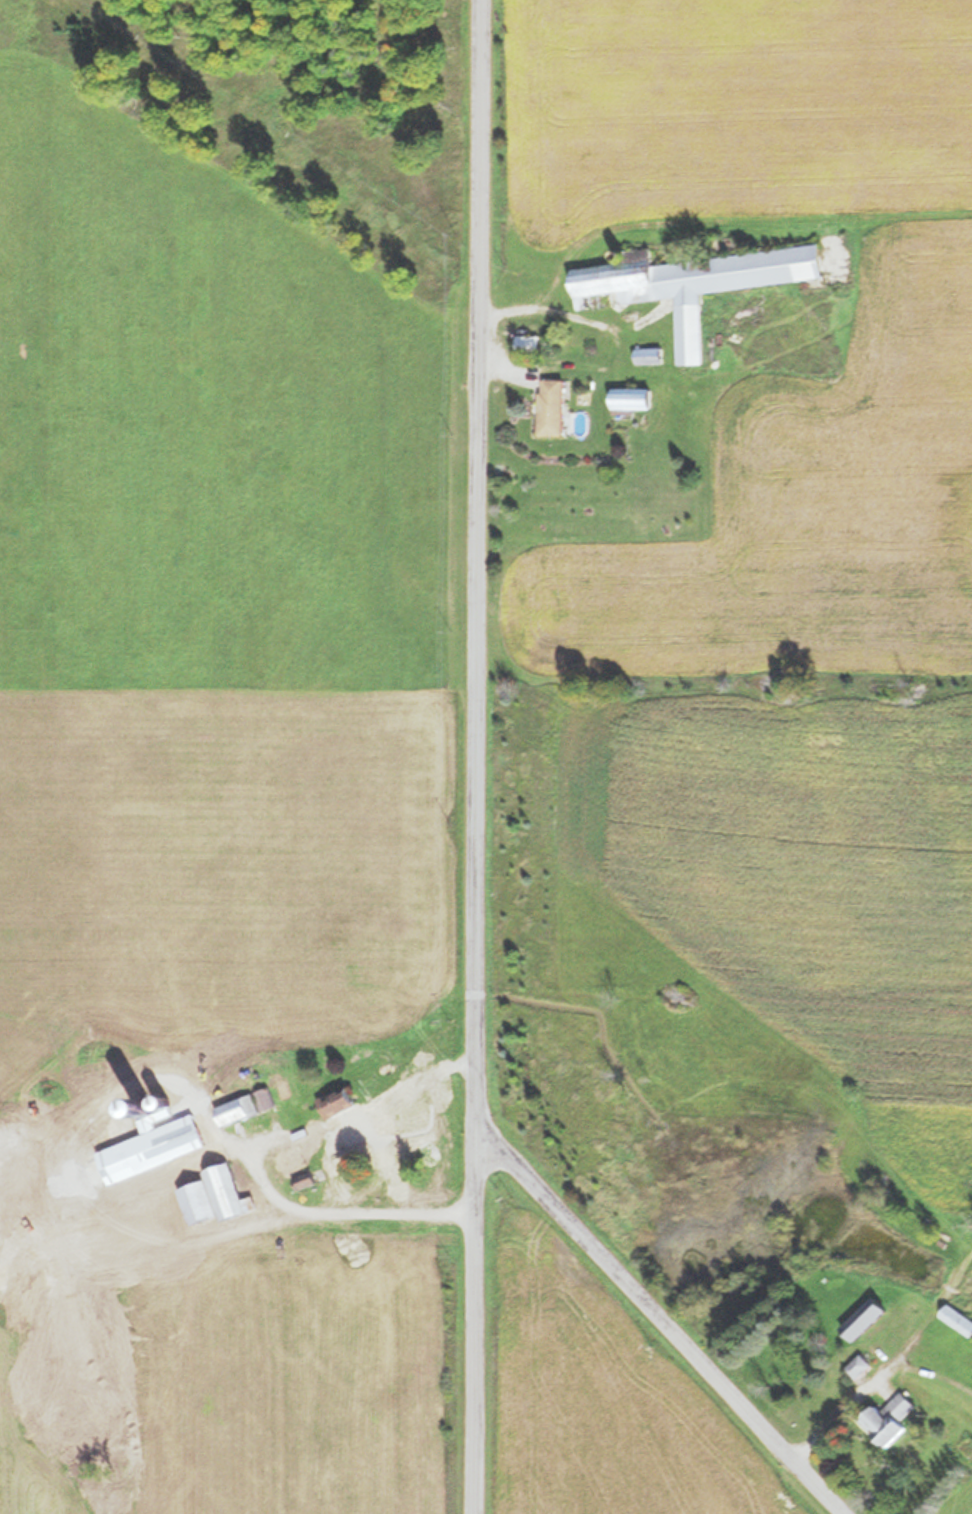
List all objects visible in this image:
building: (661, 290)
building: (526, 344)
building: (646, 356)
building: (629, 399)
building: (549, 407)
road: (475, 756)
building: (335, 1103)
building: (244, 1107)
building: (150, 1141)
building: (348, 1158)
building: (302, 1180)
building: (213, 1198)
building: (863, 1320)
building: (957, 1320)
road: (657, 1321)
building: (857, 1368)
building: (888, 1420)

